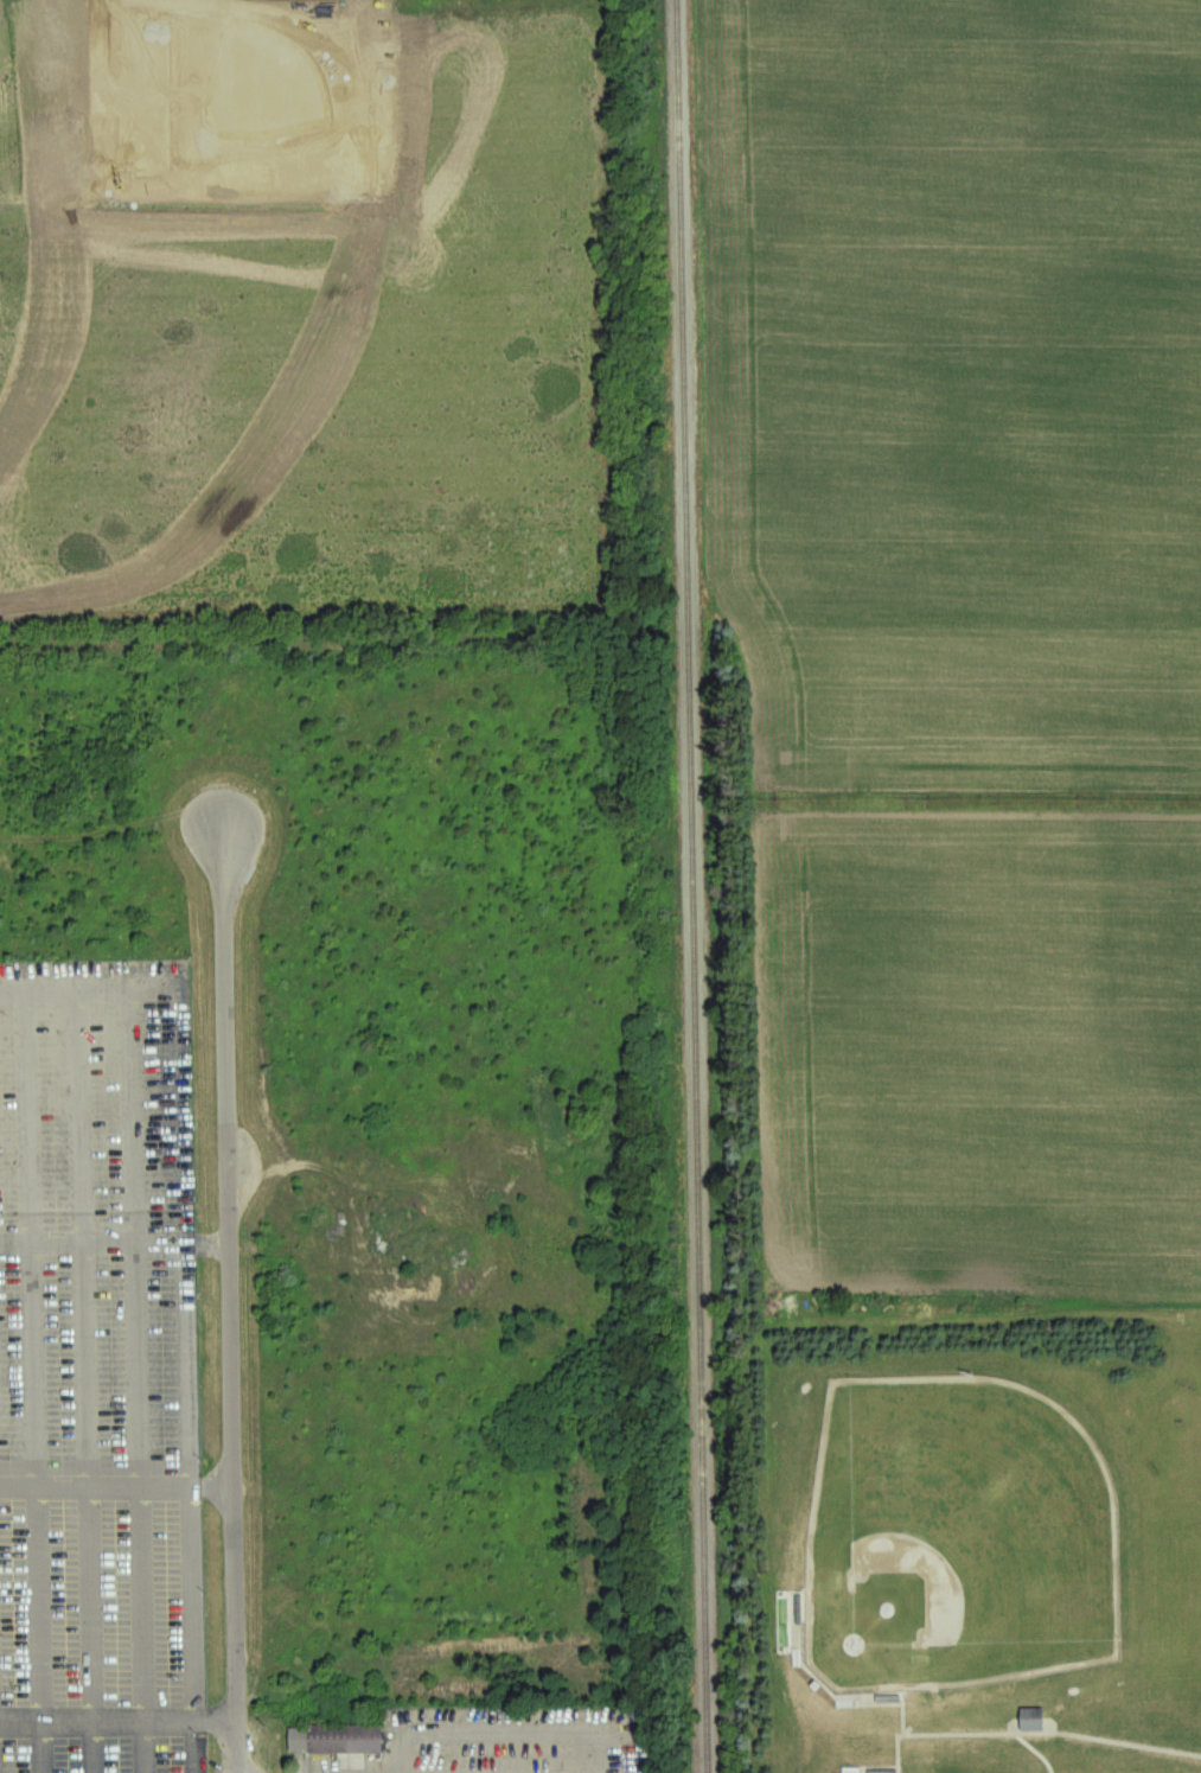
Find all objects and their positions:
crop: (958, 649)
railway: (696, 886)
road: (180, 1019)
road: (92, 1241)
road: (234, 1302)
road: (186, 1339)
road: (135, 1347)
road: (31, 1348)
road: (84, 1348)
parking lot: (102, 1370)
road: (94, 1485)
park: (962, 1537)
road: (190, 1575)
road: (121, 1715)
road: (908, 1717)
building: (1037, 1720)
road: (507, 1730)
road: (962, 1736)
building: (341, 1737)
road: (40, 1743)
road: (94, 1743)
road: (143, 1745)
road: (194, 1745)
road: (903, 1755)

